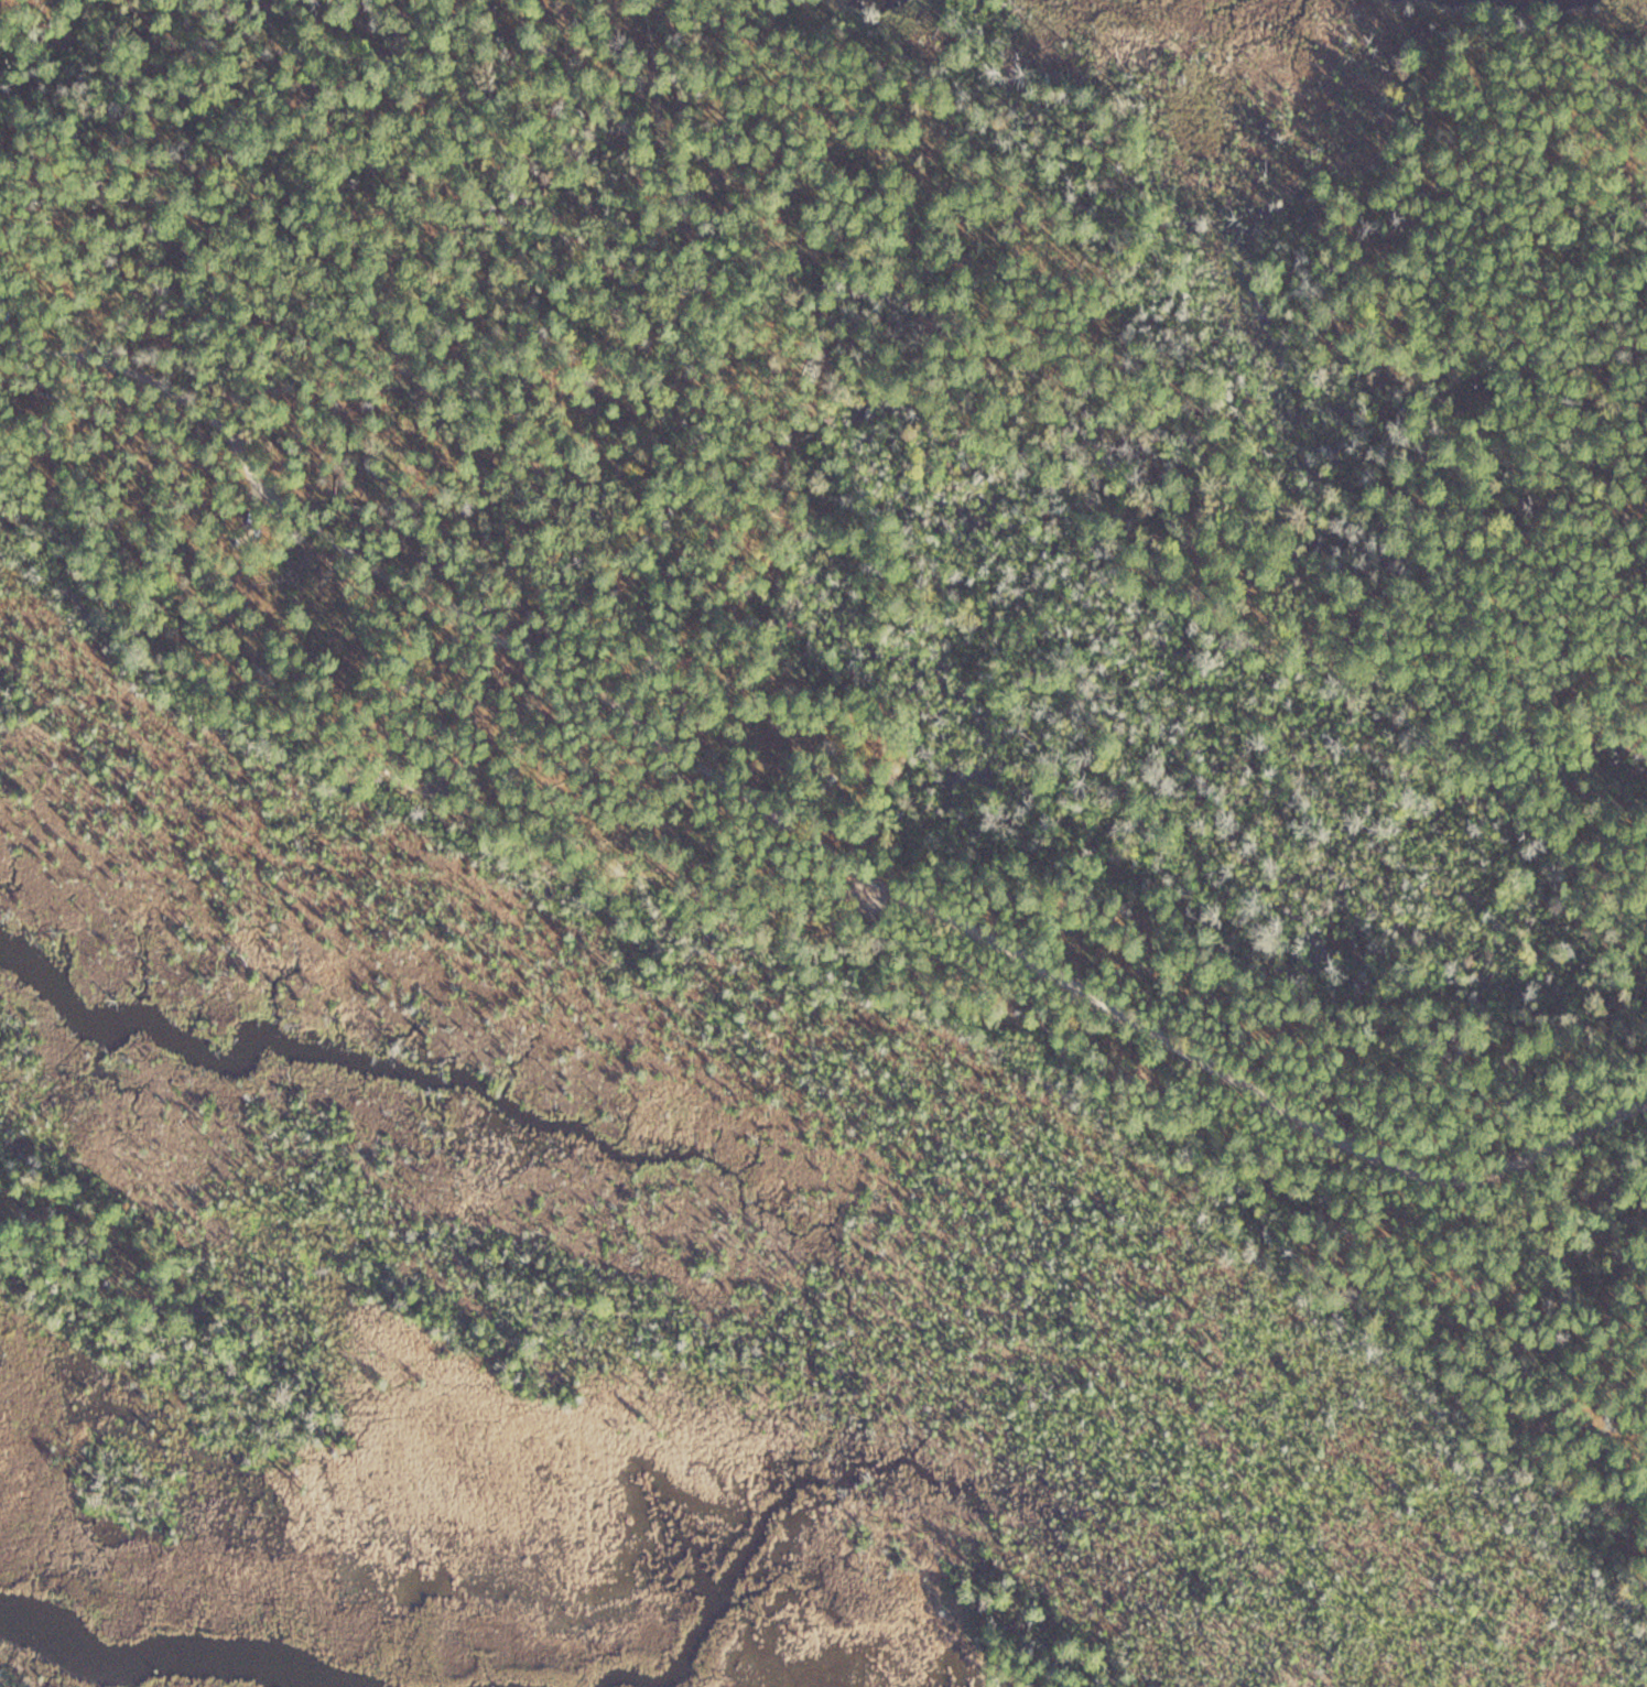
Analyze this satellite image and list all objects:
road: (431, 592)
parking lot: (874, 896)
road: (833, 900)
road: (836, 936)
road: (1248, 1084)

